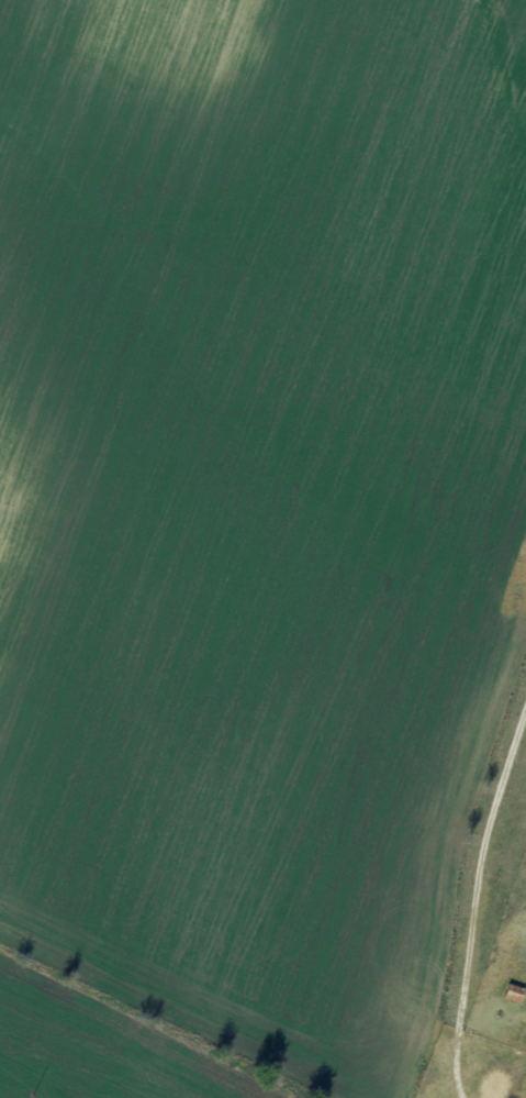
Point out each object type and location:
road: (506, 980)
building: (515, 991)

